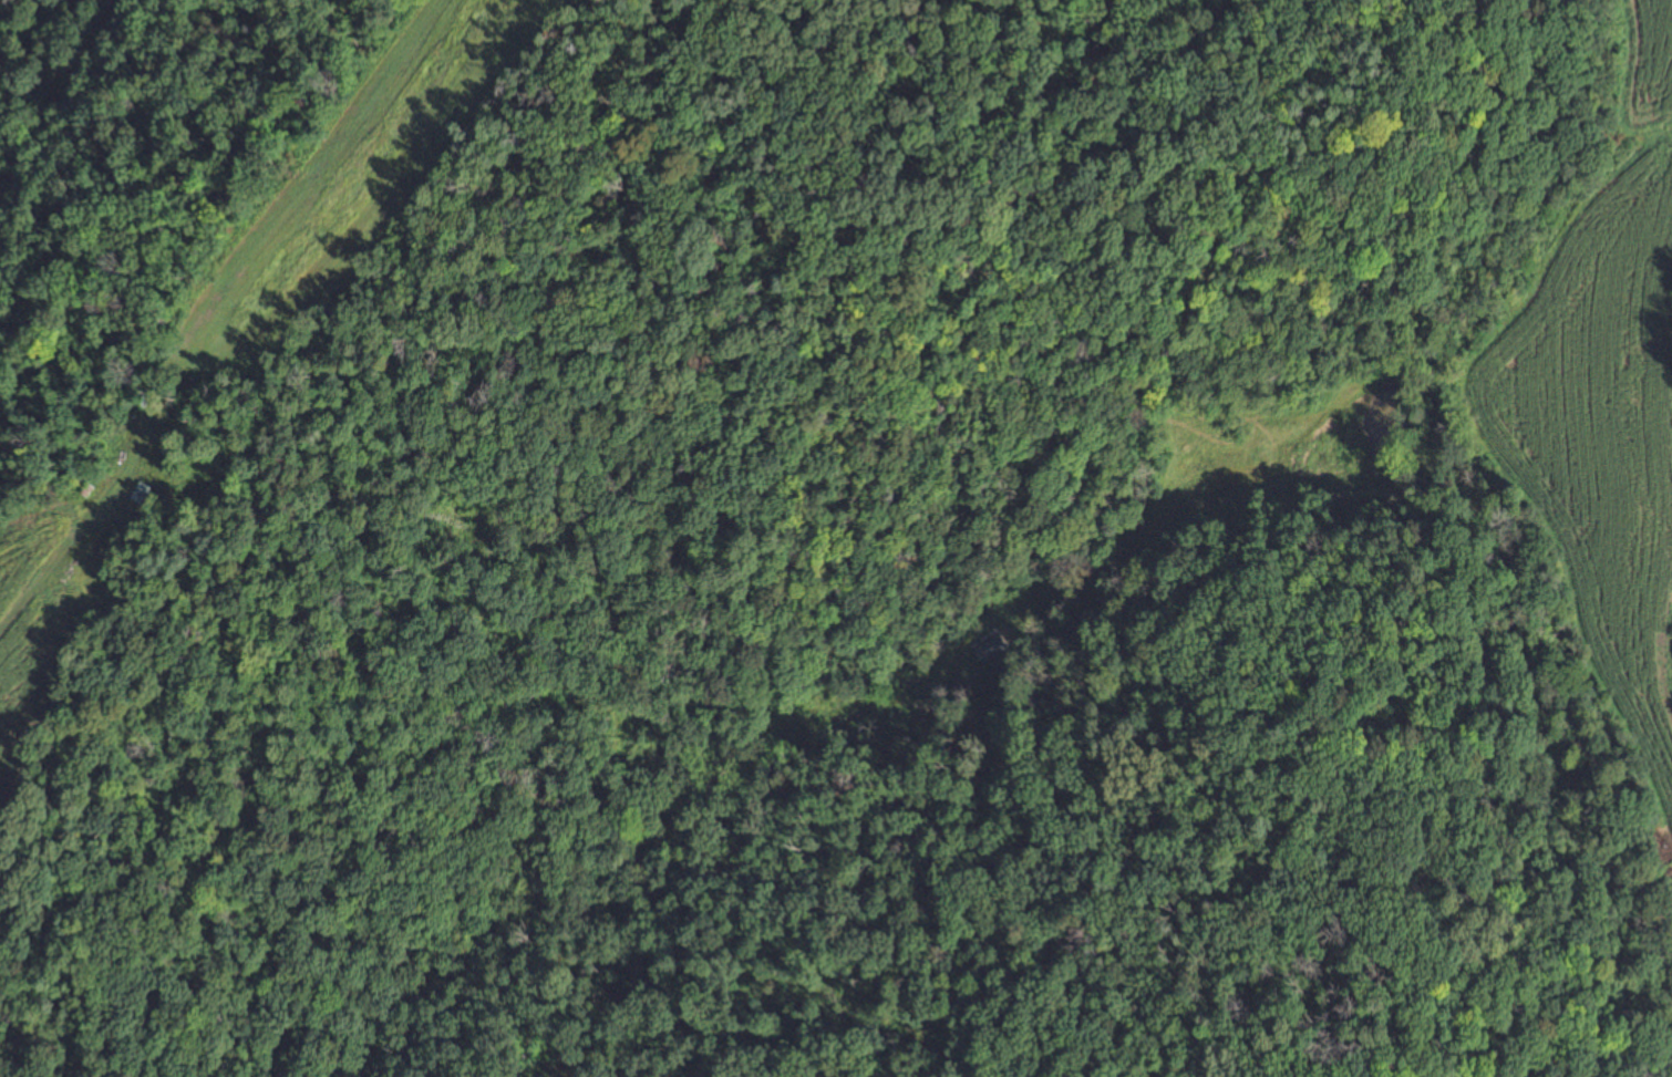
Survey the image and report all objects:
road: (78, 145)
building: (141, 495)

